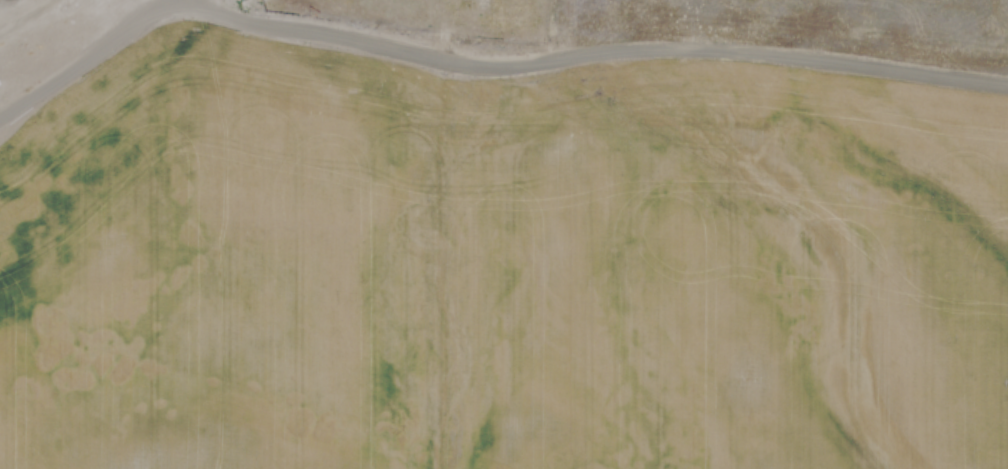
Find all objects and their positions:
road: (600, 39)
road: (74, 52)

